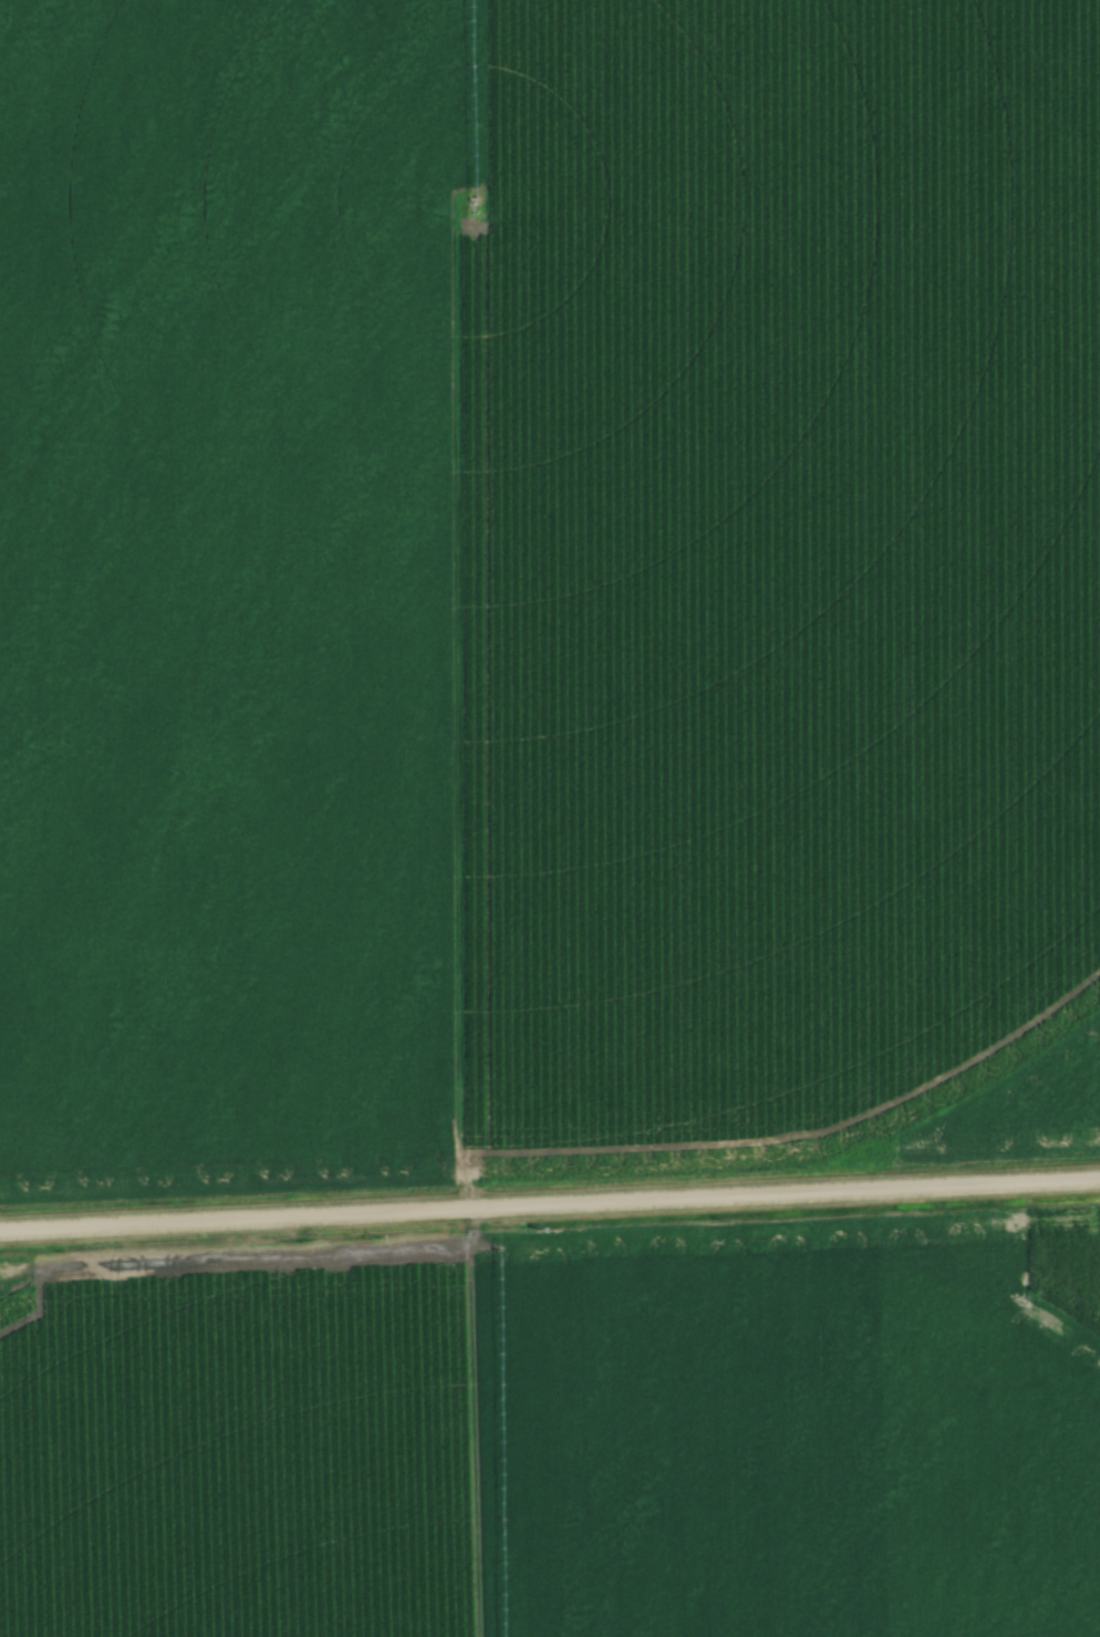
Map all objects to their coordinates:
road: (550, 1211)

